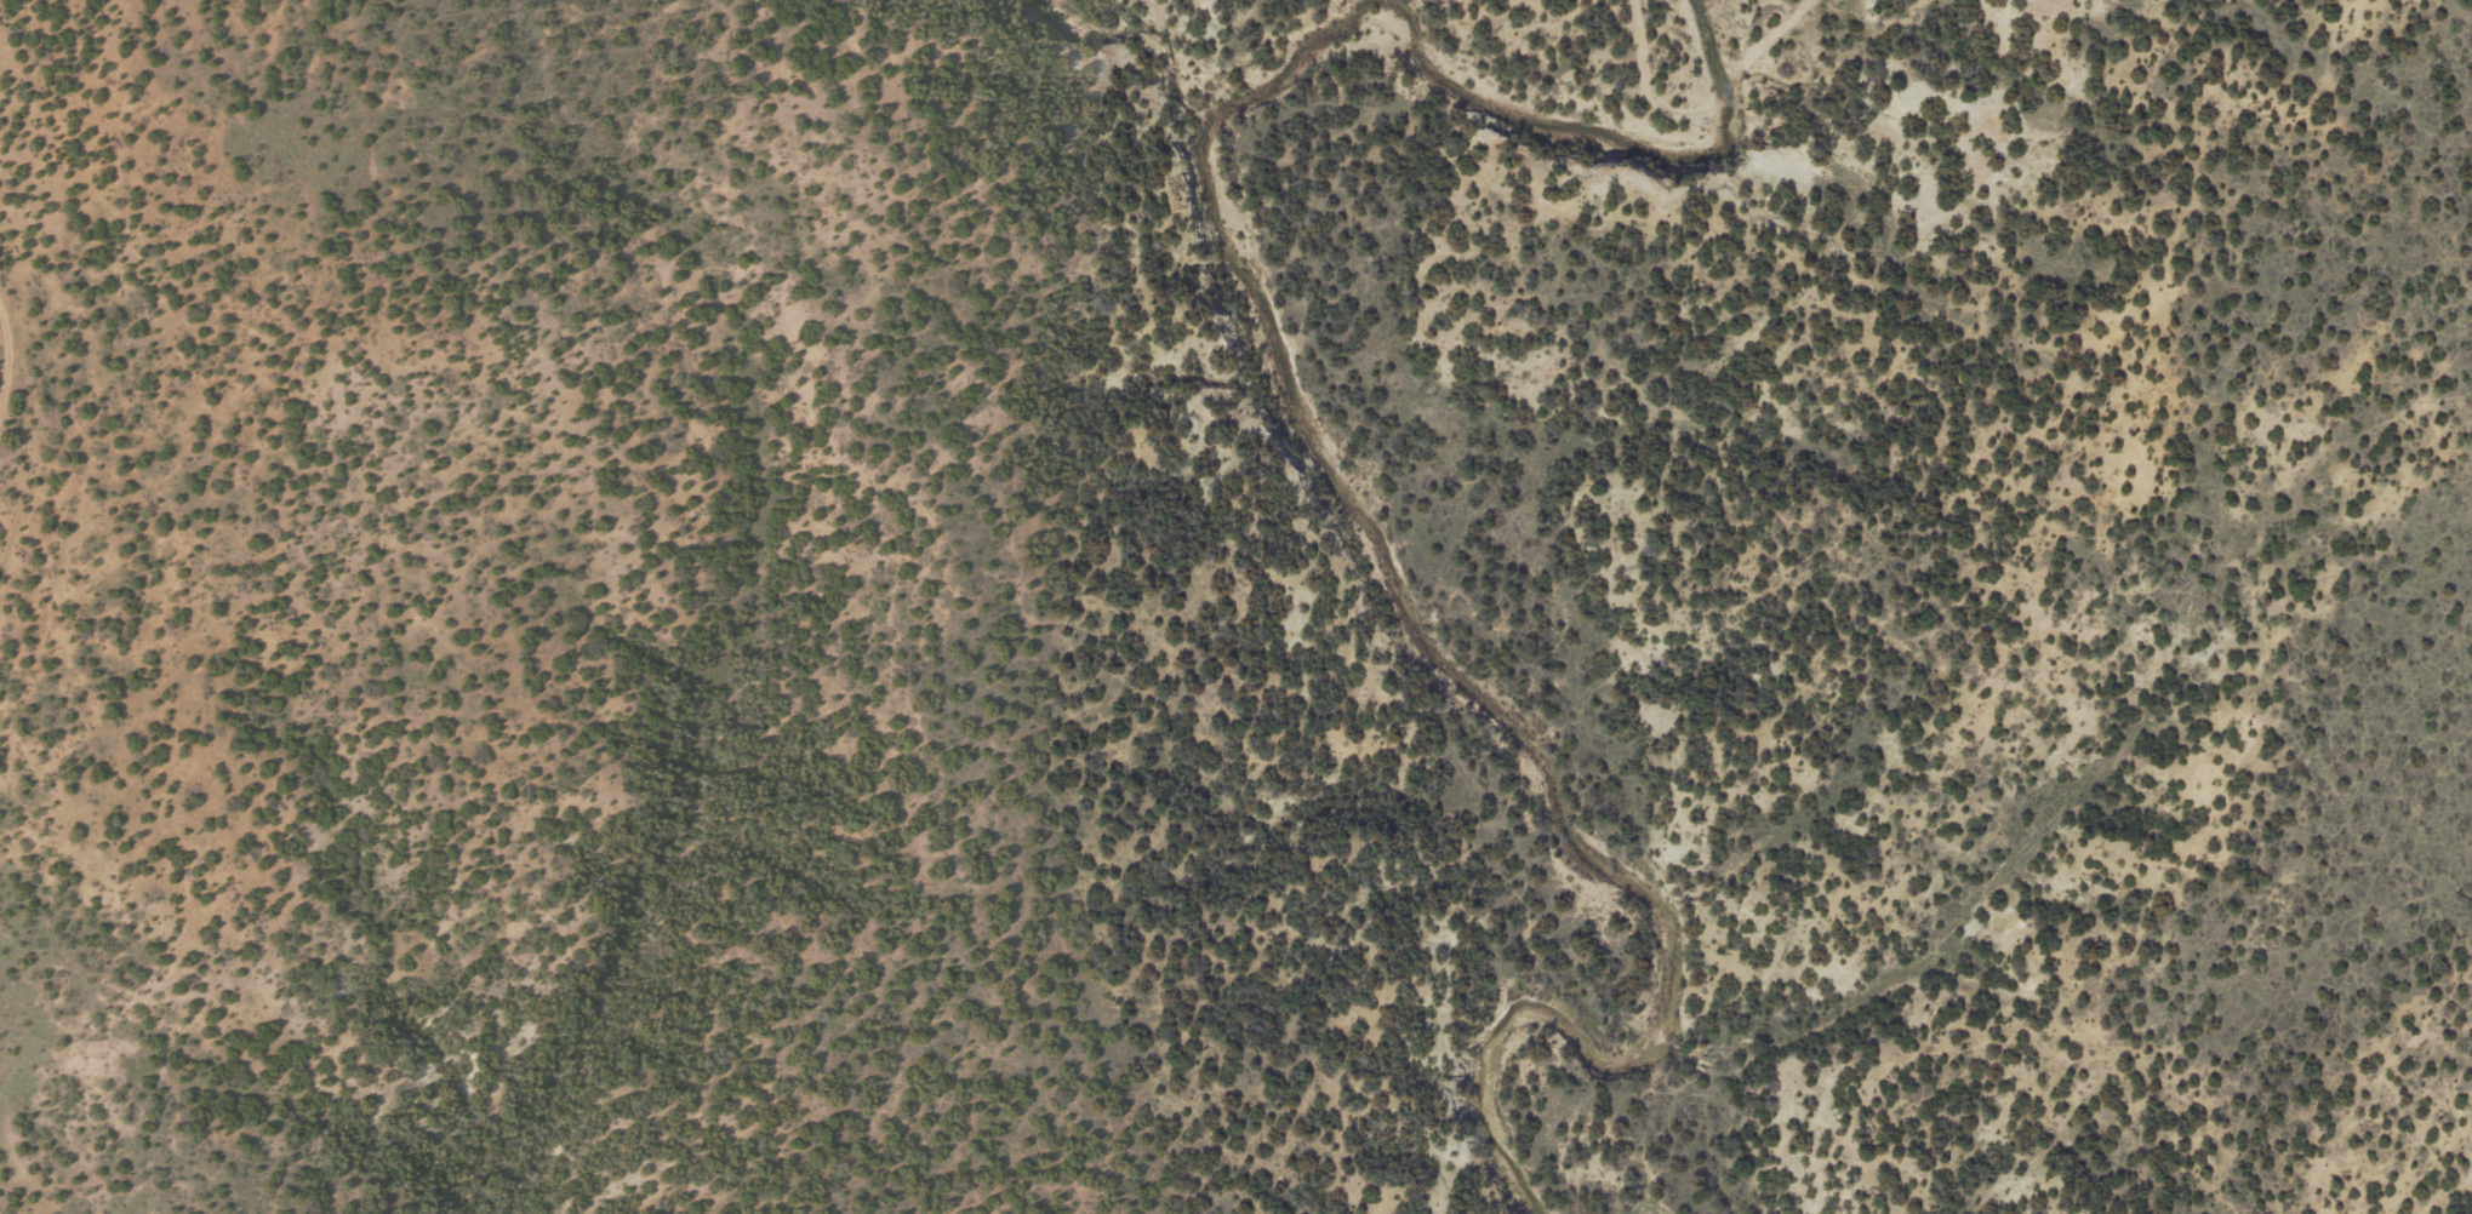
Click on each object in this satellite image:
road: (65, 286)

